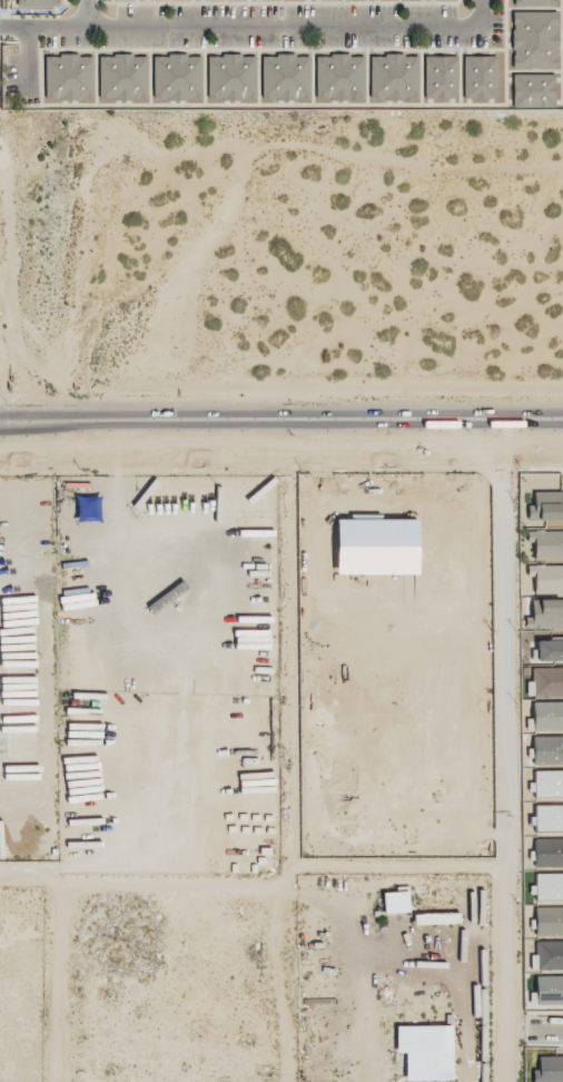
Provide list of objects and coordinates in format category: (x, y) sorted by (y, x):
building: (37, 2)
building: (534, 2)
road: (87, 12)
road: (255, 26)
building: (534, 38)
building: (122, 76)
building: (68, 77)
building: (177, 77)
building: (231, 77)
building: (285, 77)
building: (339, 77)
building: (394, 77)
building: (441, 77)
building: (478, 78)
building: (533, 89)
road: (281, 421)
traffic signals: (8, 422)
road: (281, 458)
building: (545, 506)
building: (546, 543)
building: (167, 597)
building: (550, 650)
building: (545, 682)
building: (547, 716)
road: (508, 769)
road: (289, 811)
road: (398, 868)
building: (395, 902)
building: (436, 918)
road: (58, 982)
building: (549, 990)
road: (543, 1025)
building: (423, 1051)
building: (549, 1069)

